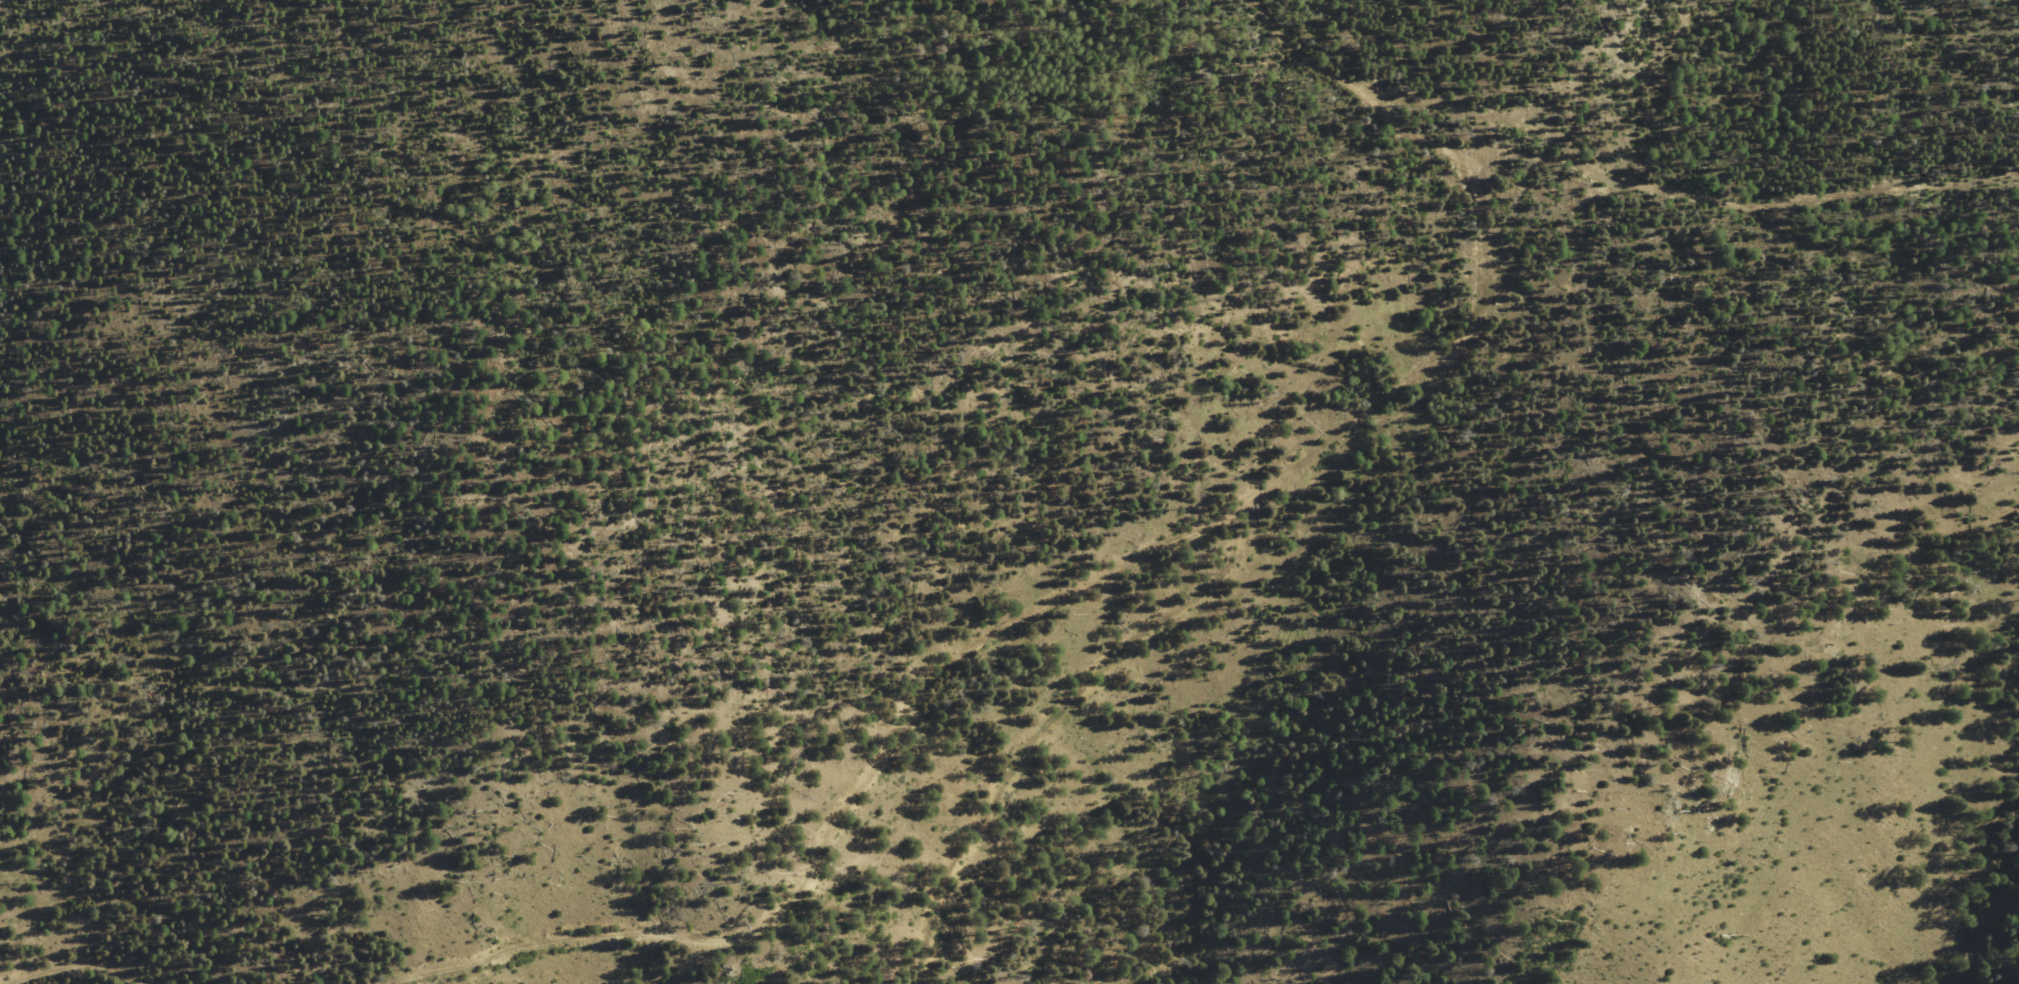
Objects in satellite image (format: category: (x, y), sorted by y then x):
road: (1157, 584)

